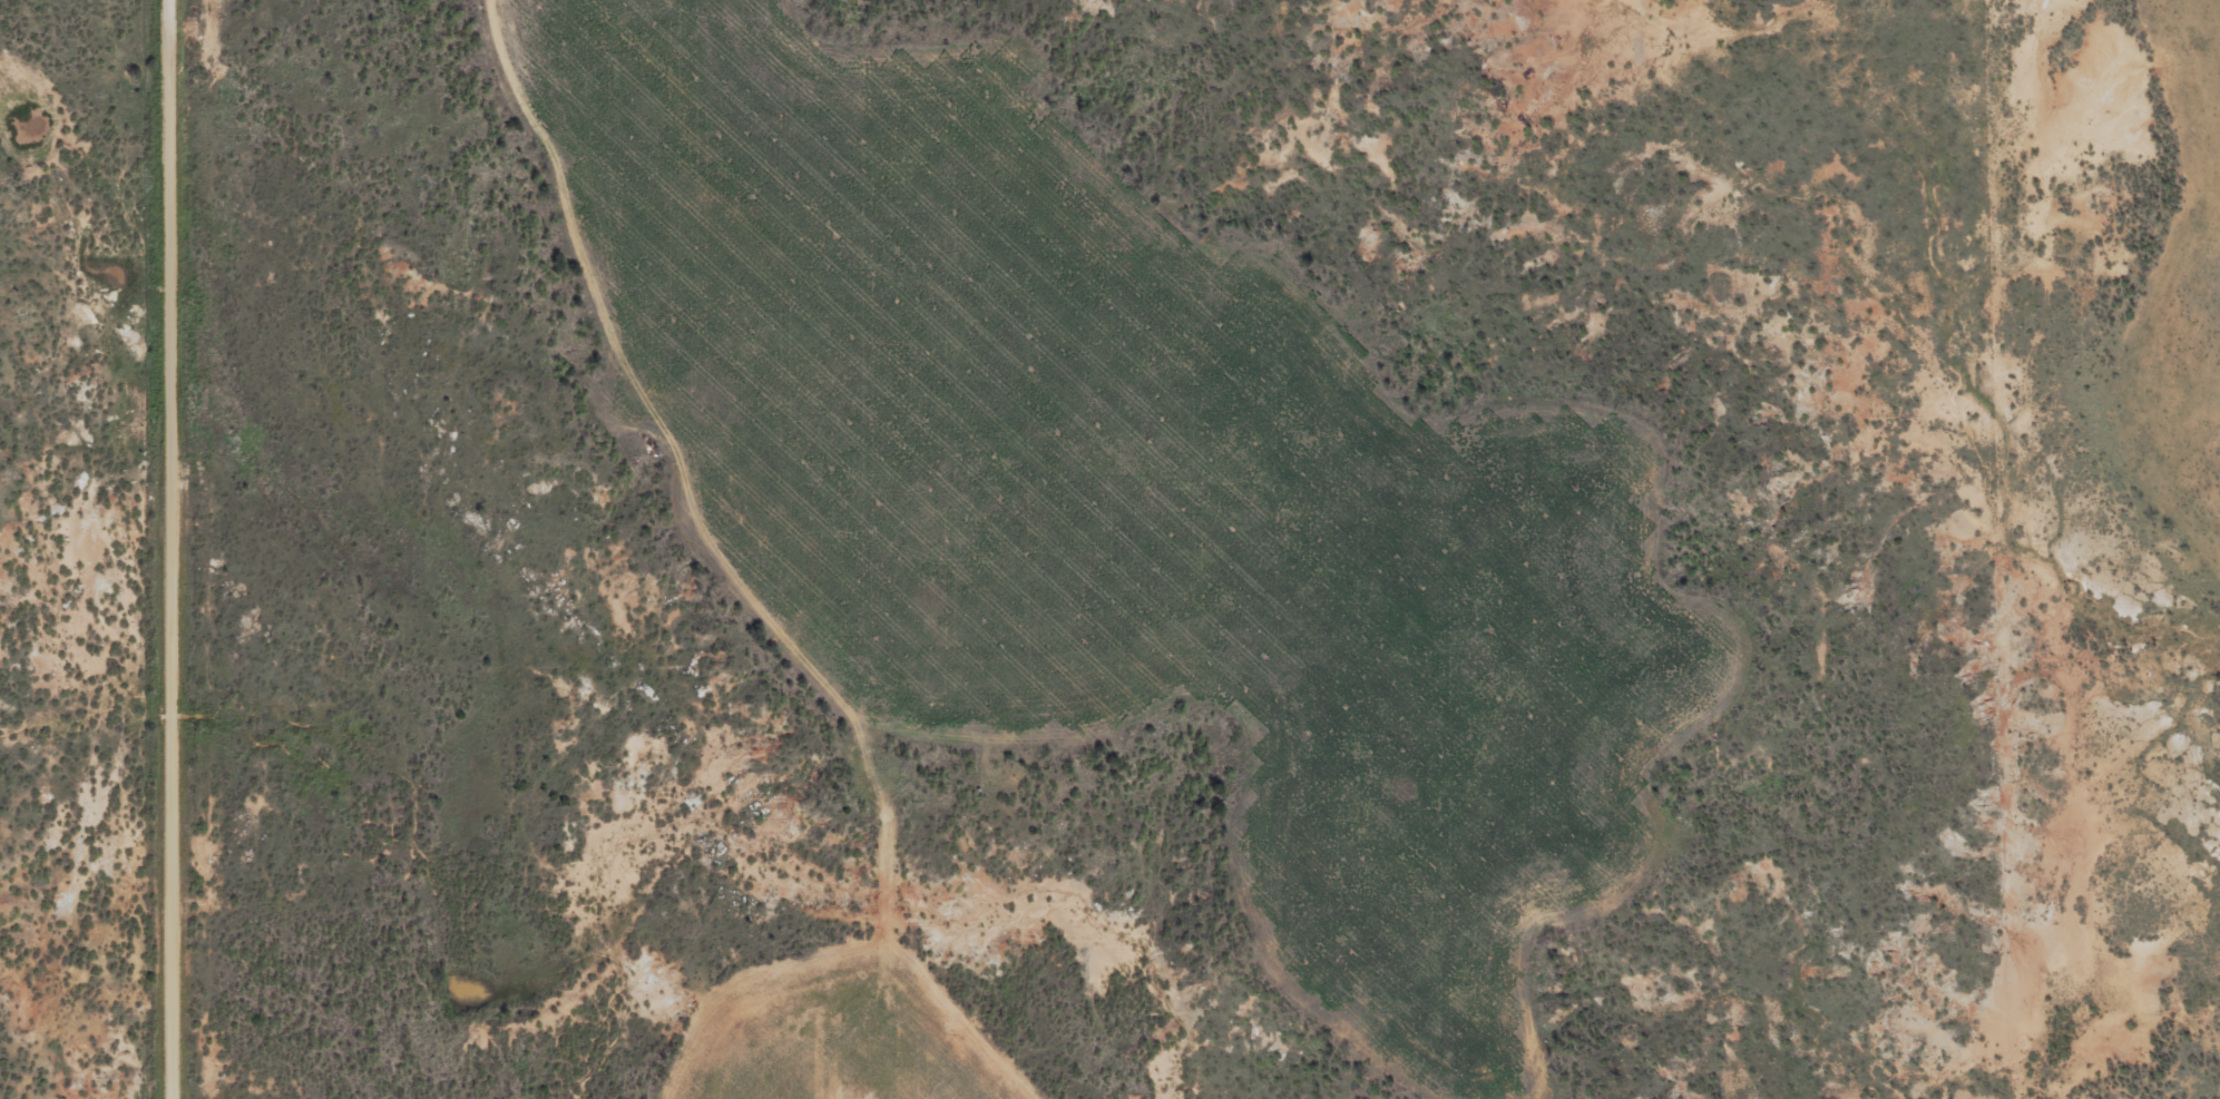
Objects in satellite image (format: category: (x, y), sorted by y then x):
road: (177, 549)

